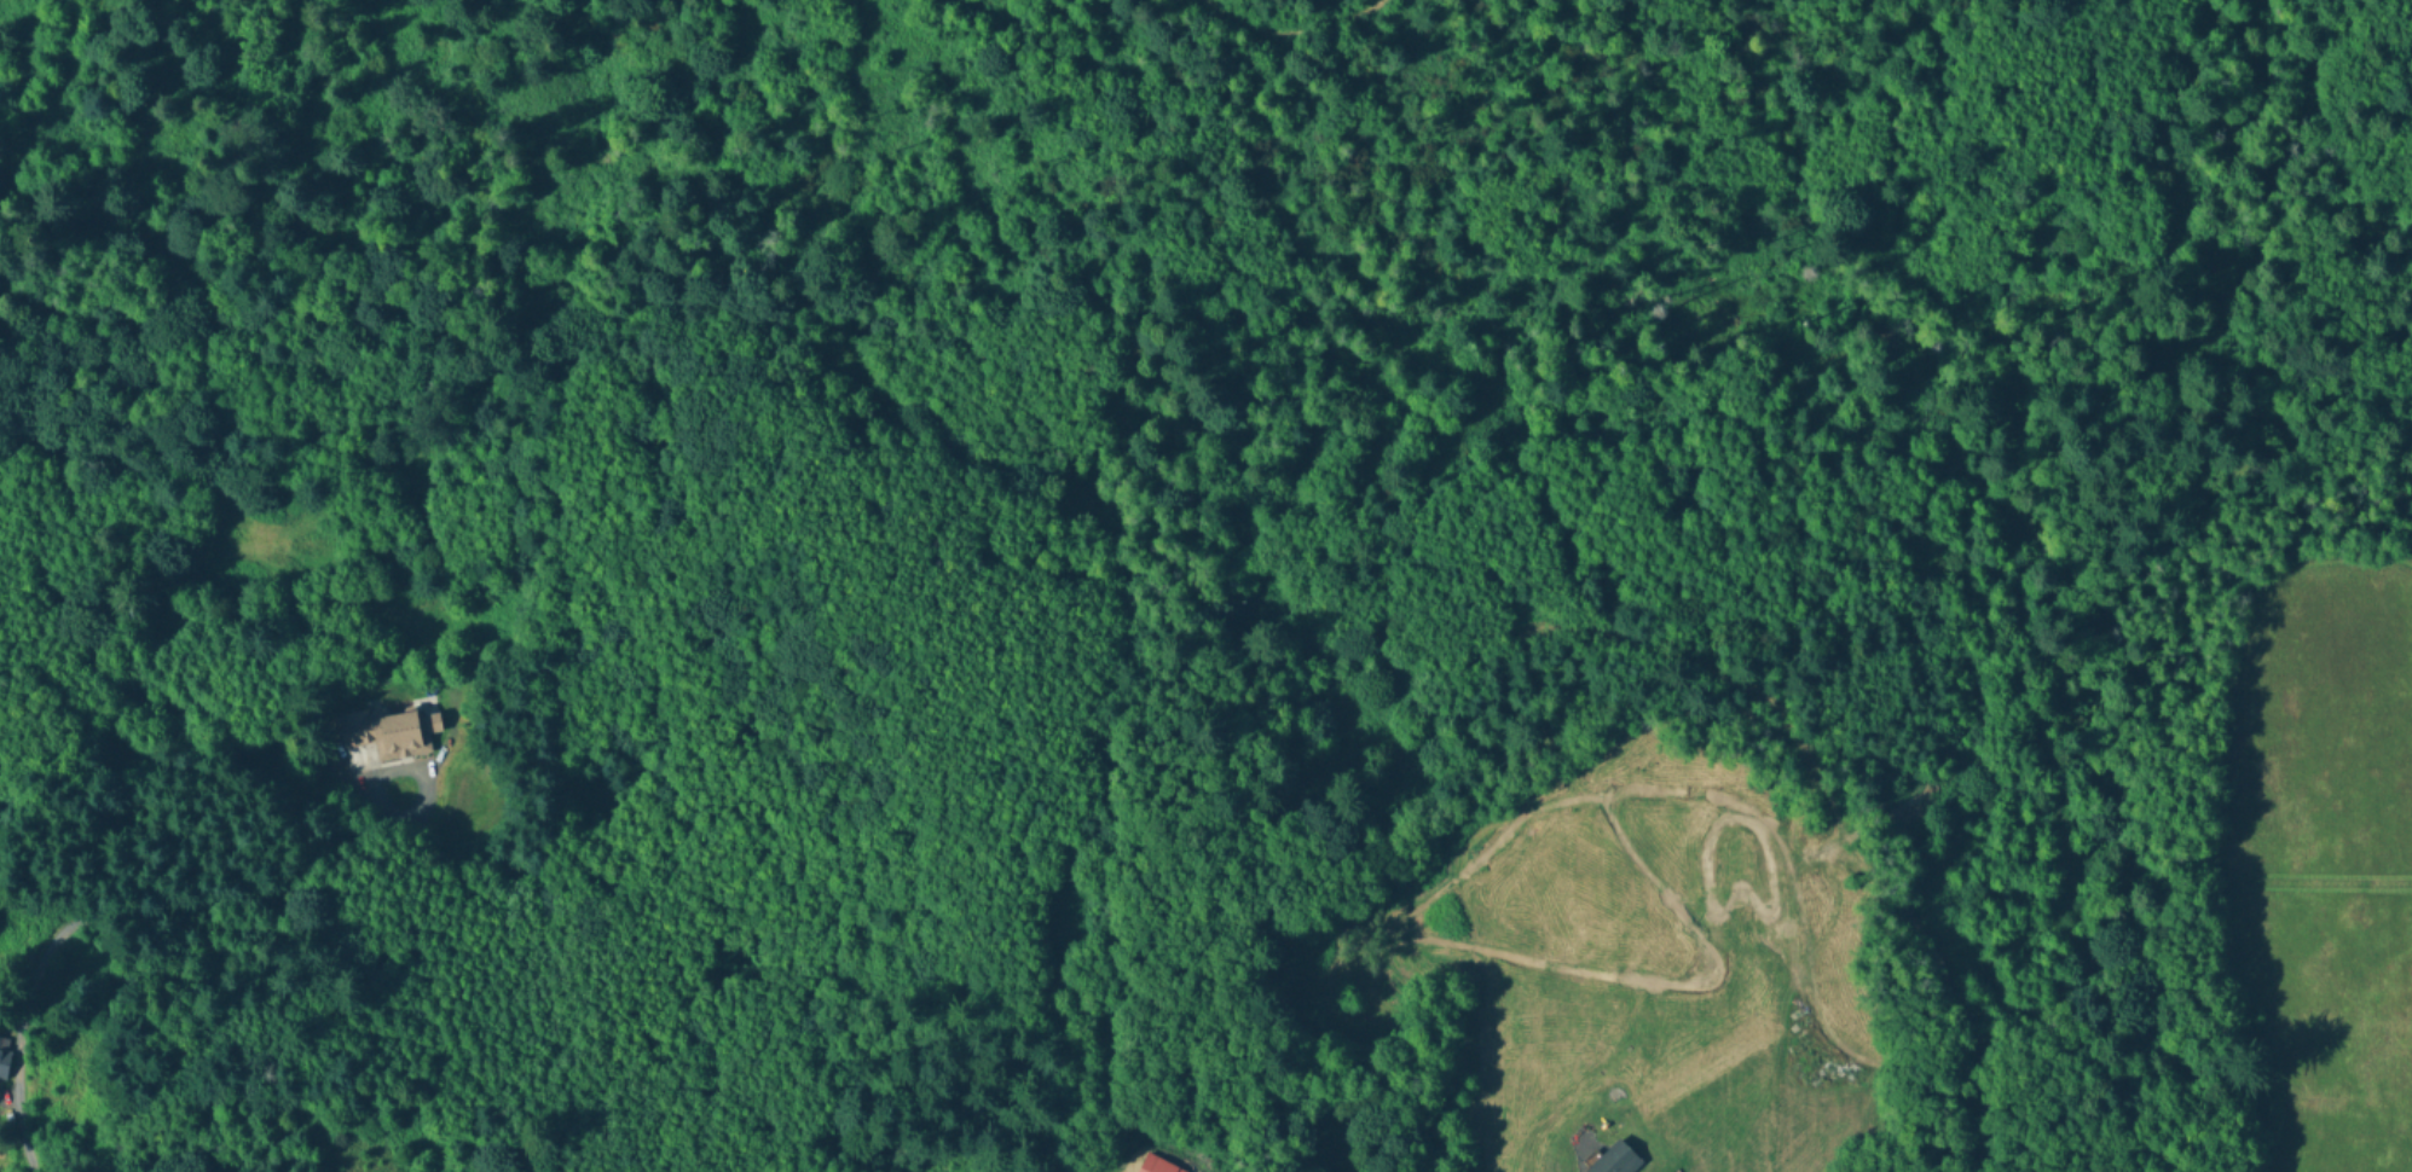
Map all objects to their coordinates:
building: (391, 733)
building: (4, 1057)
building: (1615, 1160)
building: (1156, 1165)

